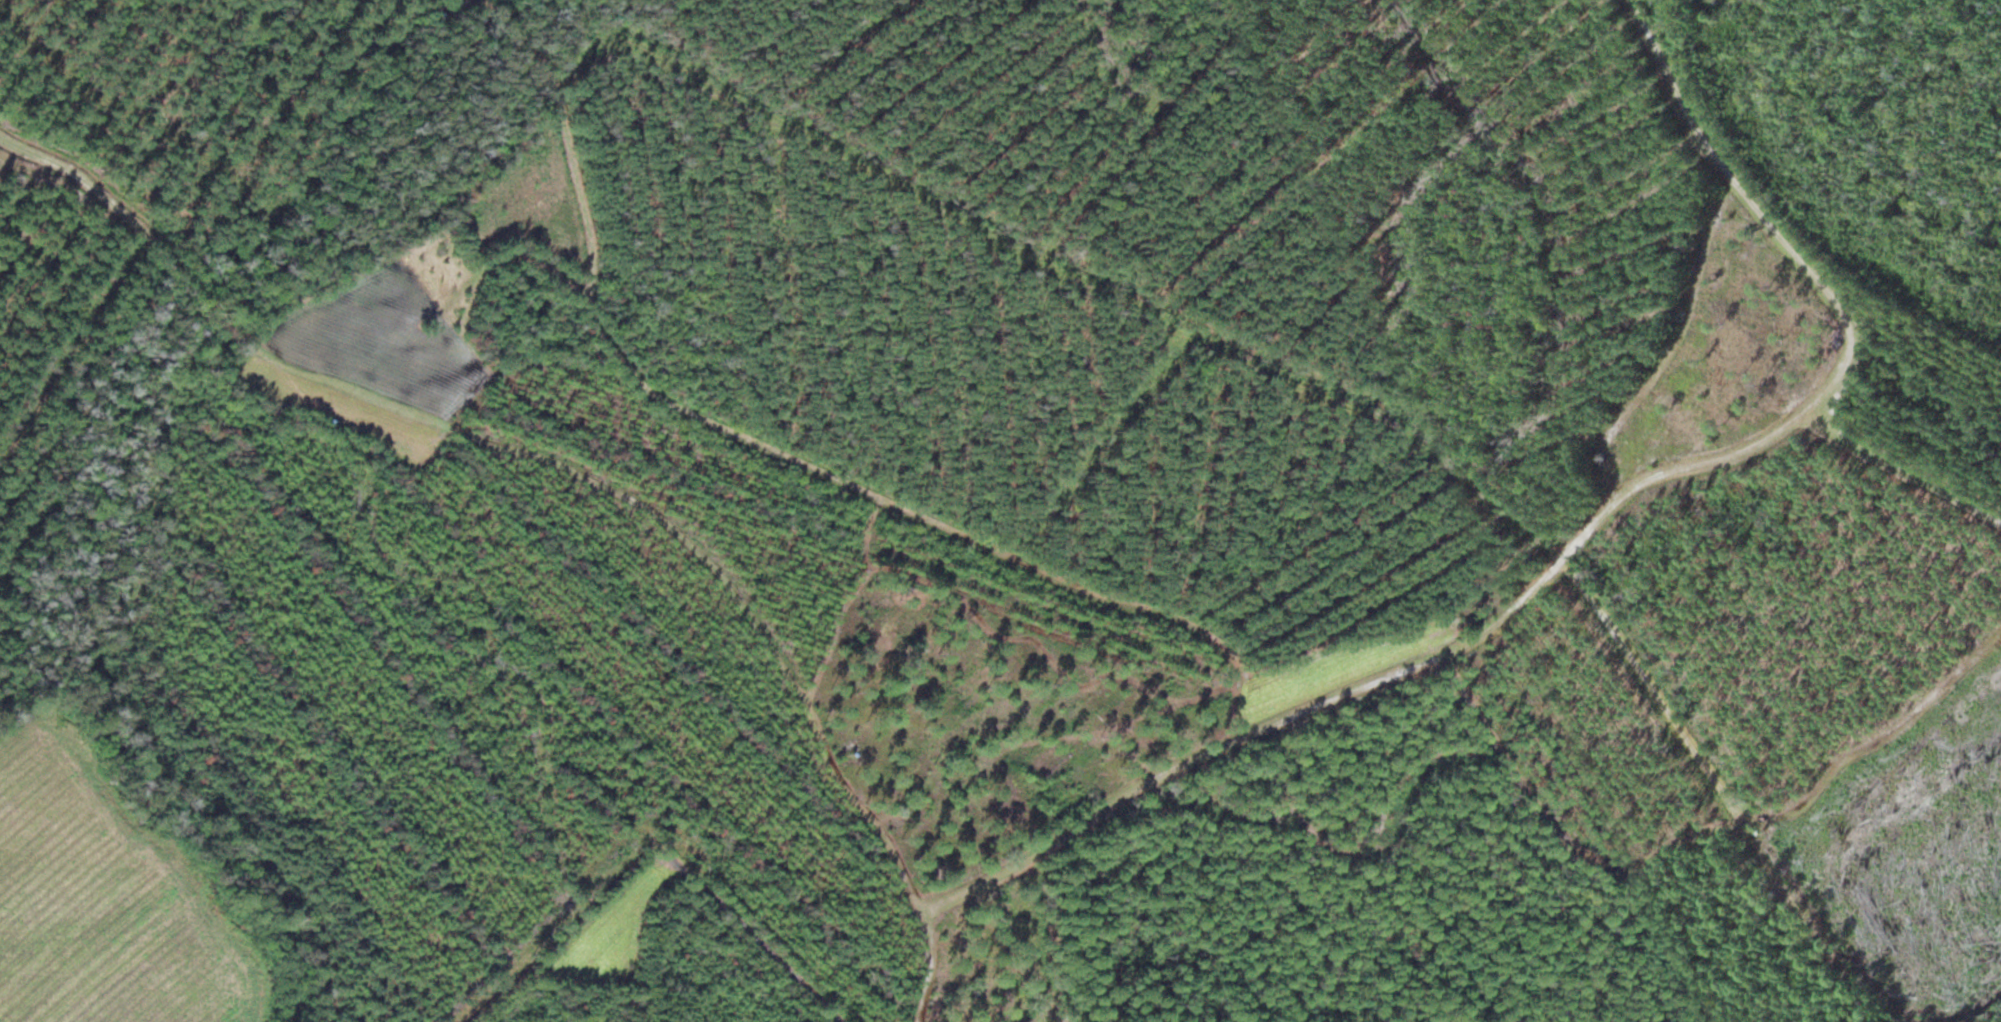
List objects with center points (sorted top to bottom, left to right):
road: (66, 171)
crop: (339, 406)
road: (1588, 537)
crop: (106, 901)

